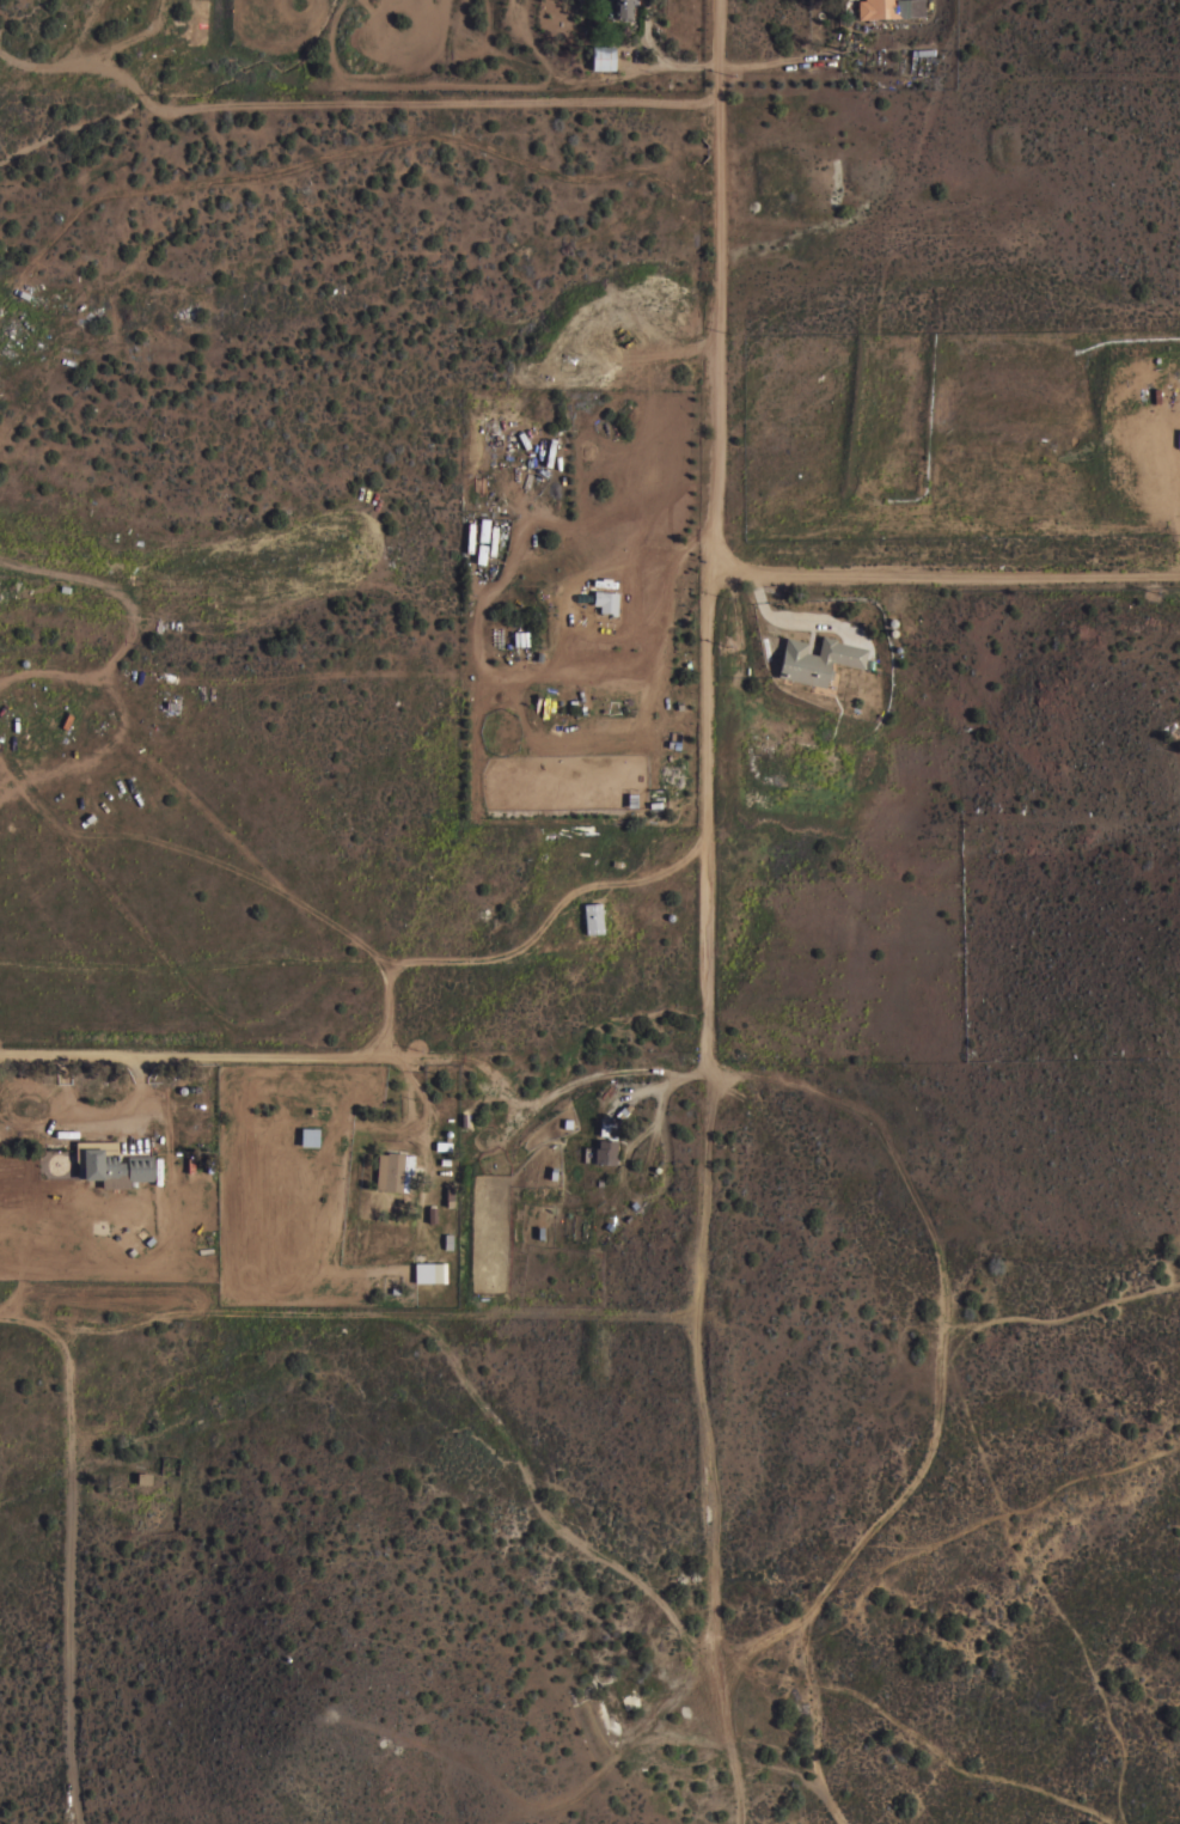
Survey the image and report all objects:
building: (618, 8)
building: (888, 8)
building: (601, 57)
road: (774, 62)
building: (488, 541)
road: (944, 574)
building: (603, 600)
building: (817, 659)
building: (632, 799)
building: (592, 917)
road: (708, 1005)
road: (202, 1054)
building: (609, 1129)
building: (308, 1136)
building: (605, 1152)
building: (110, 1164)
building: (397, 1170)
building: (438, 1271)
road: (695, 1301)
road: (35, 1312)
road: (454, 1348)
building: (142, 1477)
road: (74, 1574)
building: (619, 1704)
road: (667, 1712)
road: (692, 1738)
road: (934, 1741)
road: (740, 1806)

